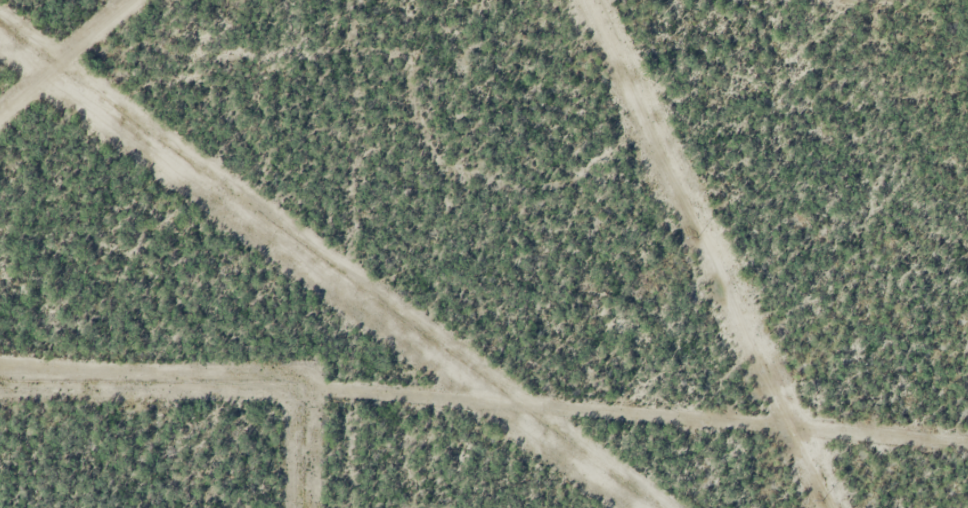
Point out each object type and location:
power tower: (697, 235)
power tower: (822, 498)

